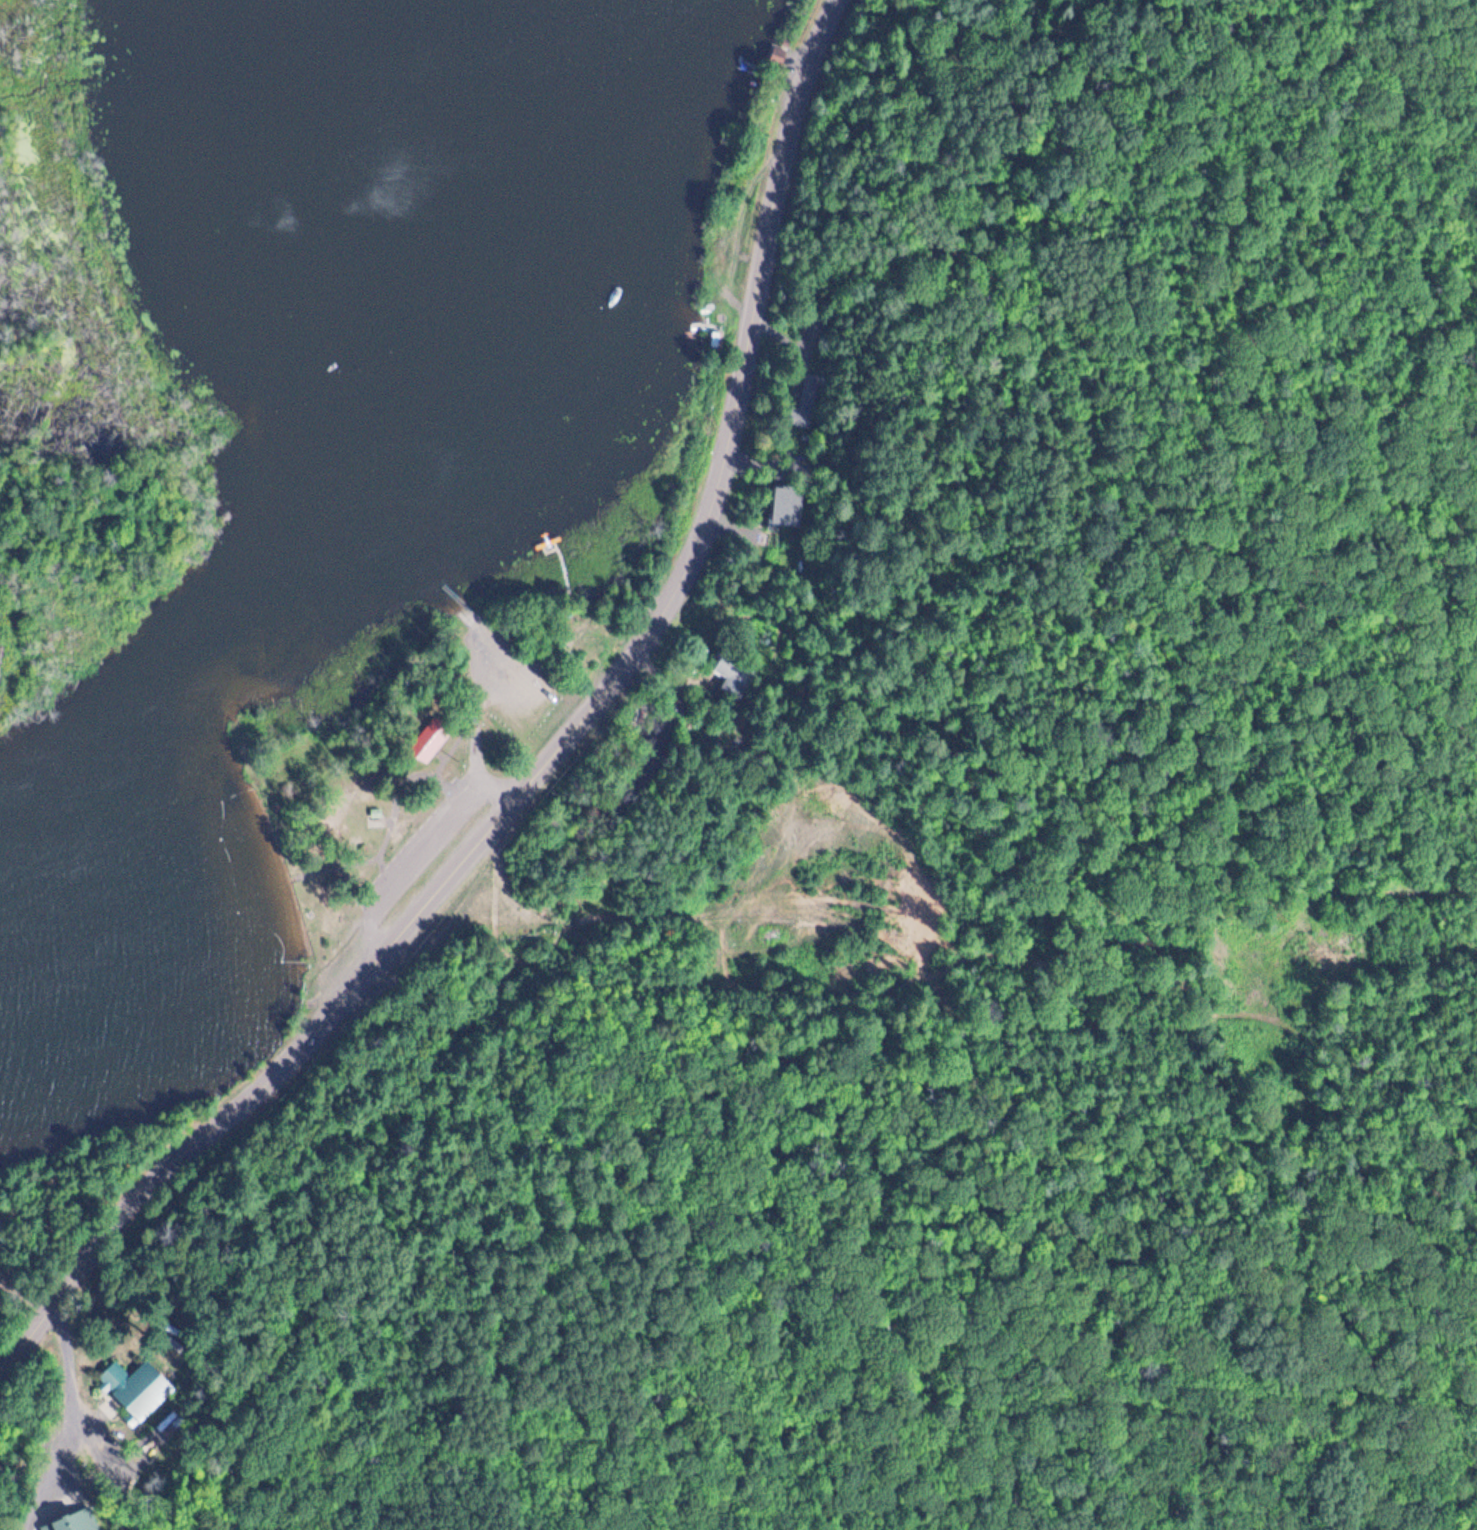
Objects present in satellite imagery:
building: (777, 53)
building: (803, 410)
building: (428, 745)
road: (549, 759)
parking lot: (425, 848)
road: (433, 854)
building: (132, 1385)
road: (68, 1420)

